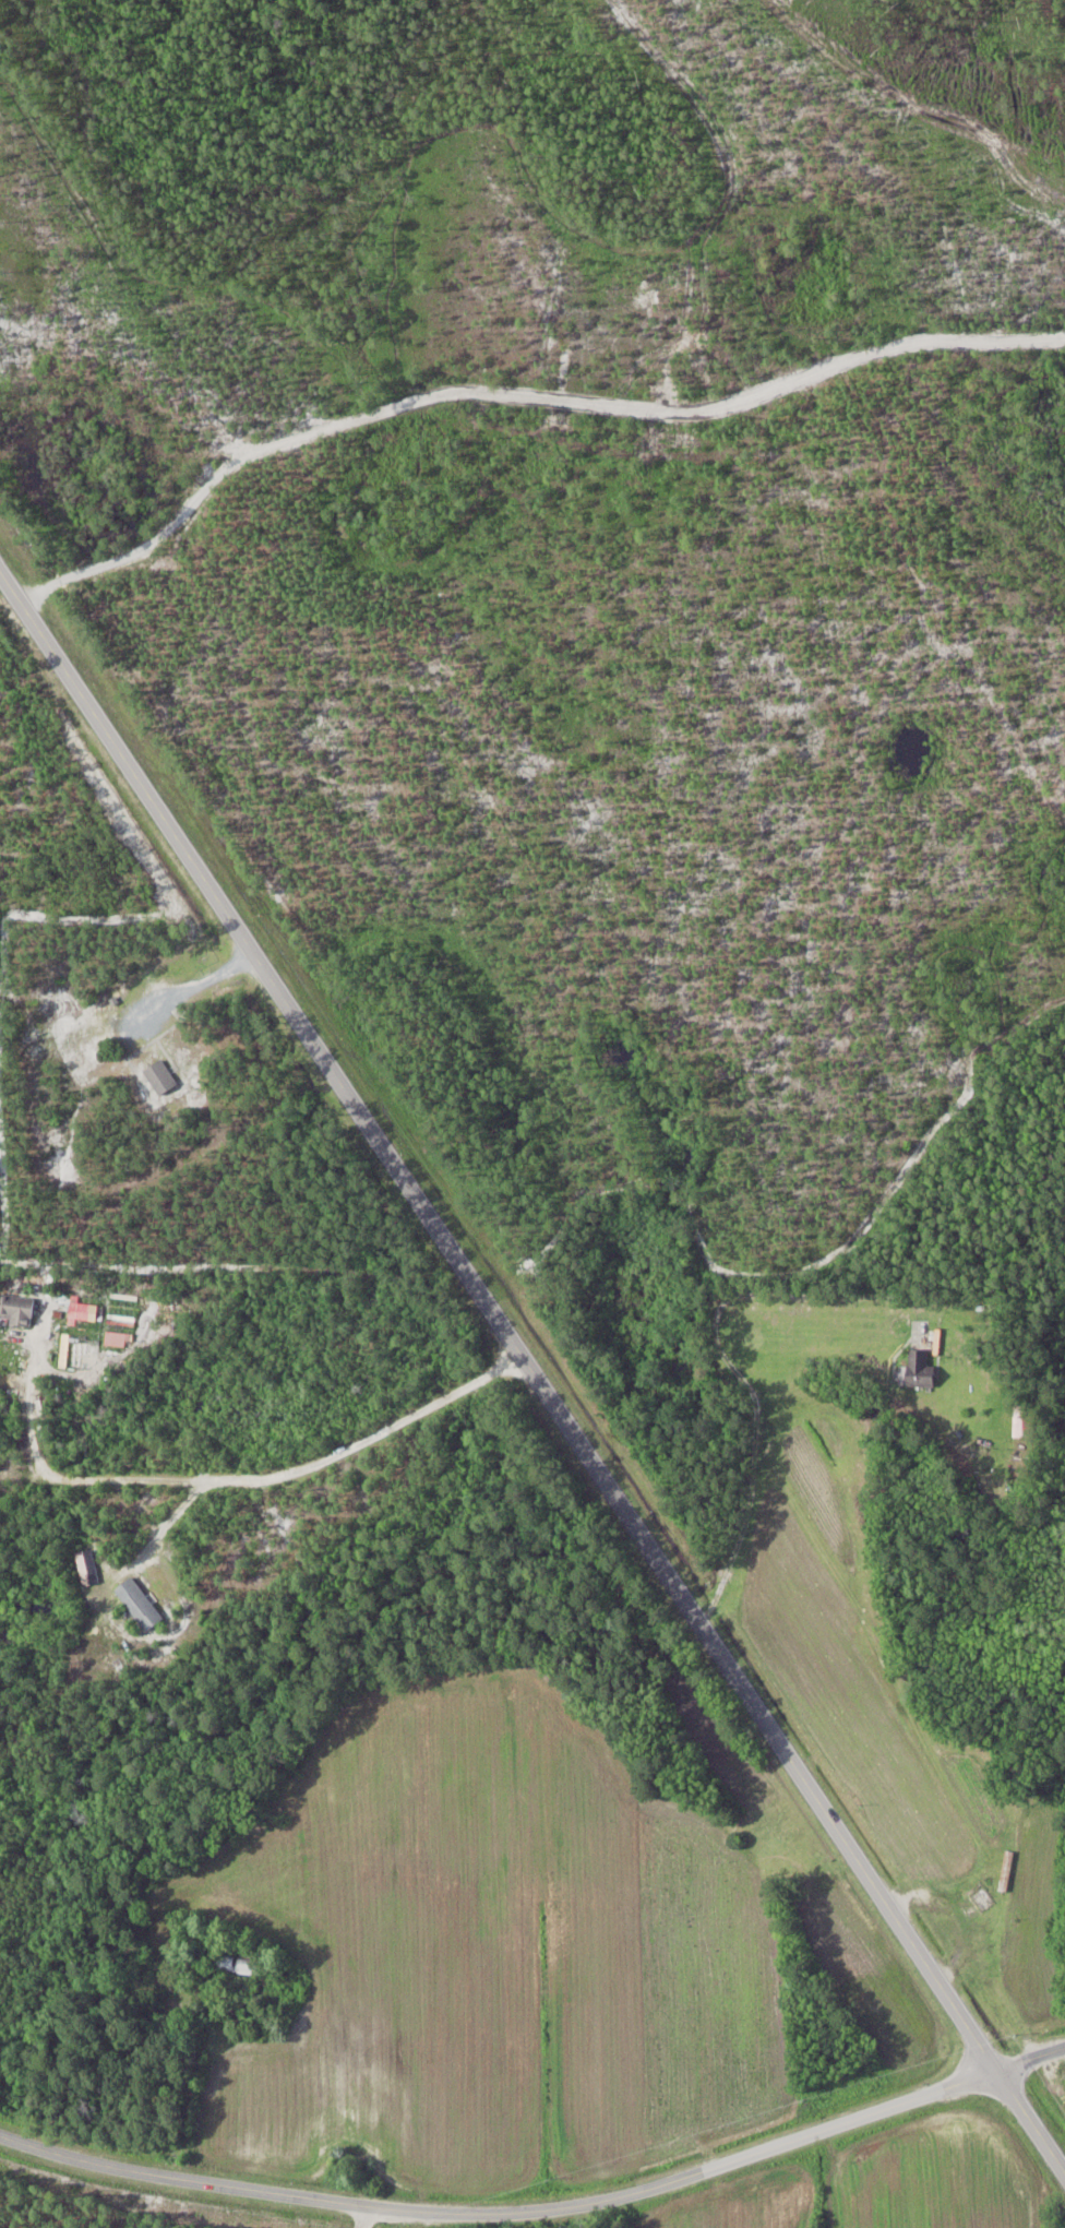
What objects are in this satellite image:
road: (186, 991)
building: (160, 1077)
building: (17, 1309)
building: (922, 1369)
road: (531, 1373)
road: (27, 1389)
building: (1022, 1426)
road: (296, 1468)
road: (165, 1524)
building: (86, 1568)
building: (140, 1605)
building: (240, 1964)
road: (335, 1994)
road: (1029, 2057)
road: (501, 2204)
road: (319, 2214)
road: (330, 2214)

